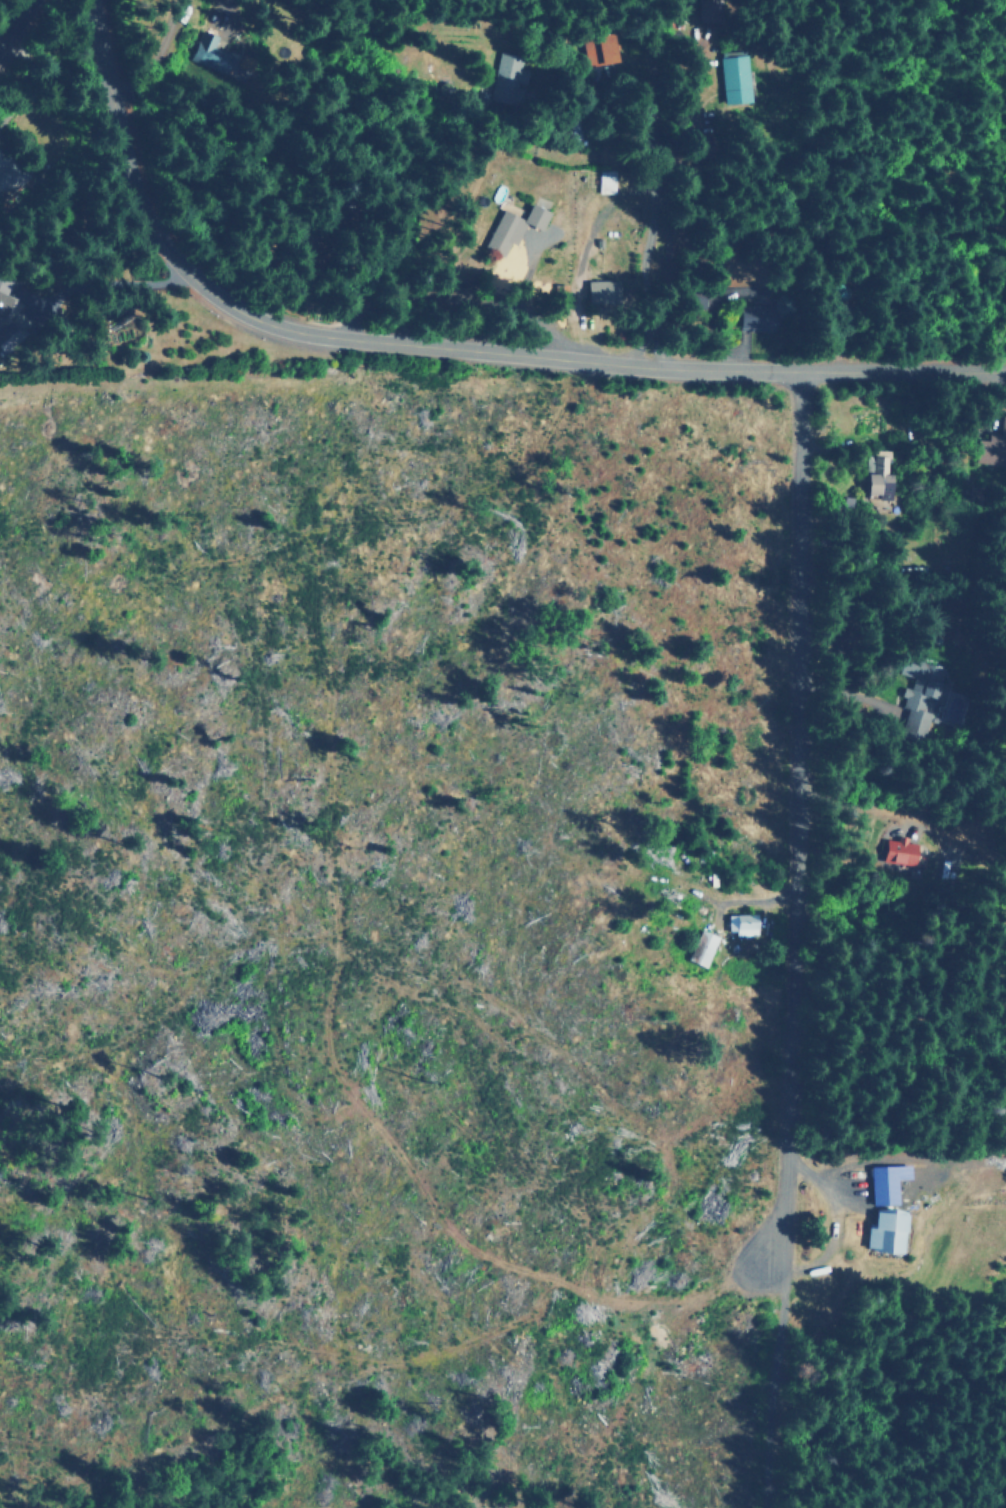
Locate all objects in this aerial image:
road: (10, 12)
road: (442, 348)
road: (785, 940)

